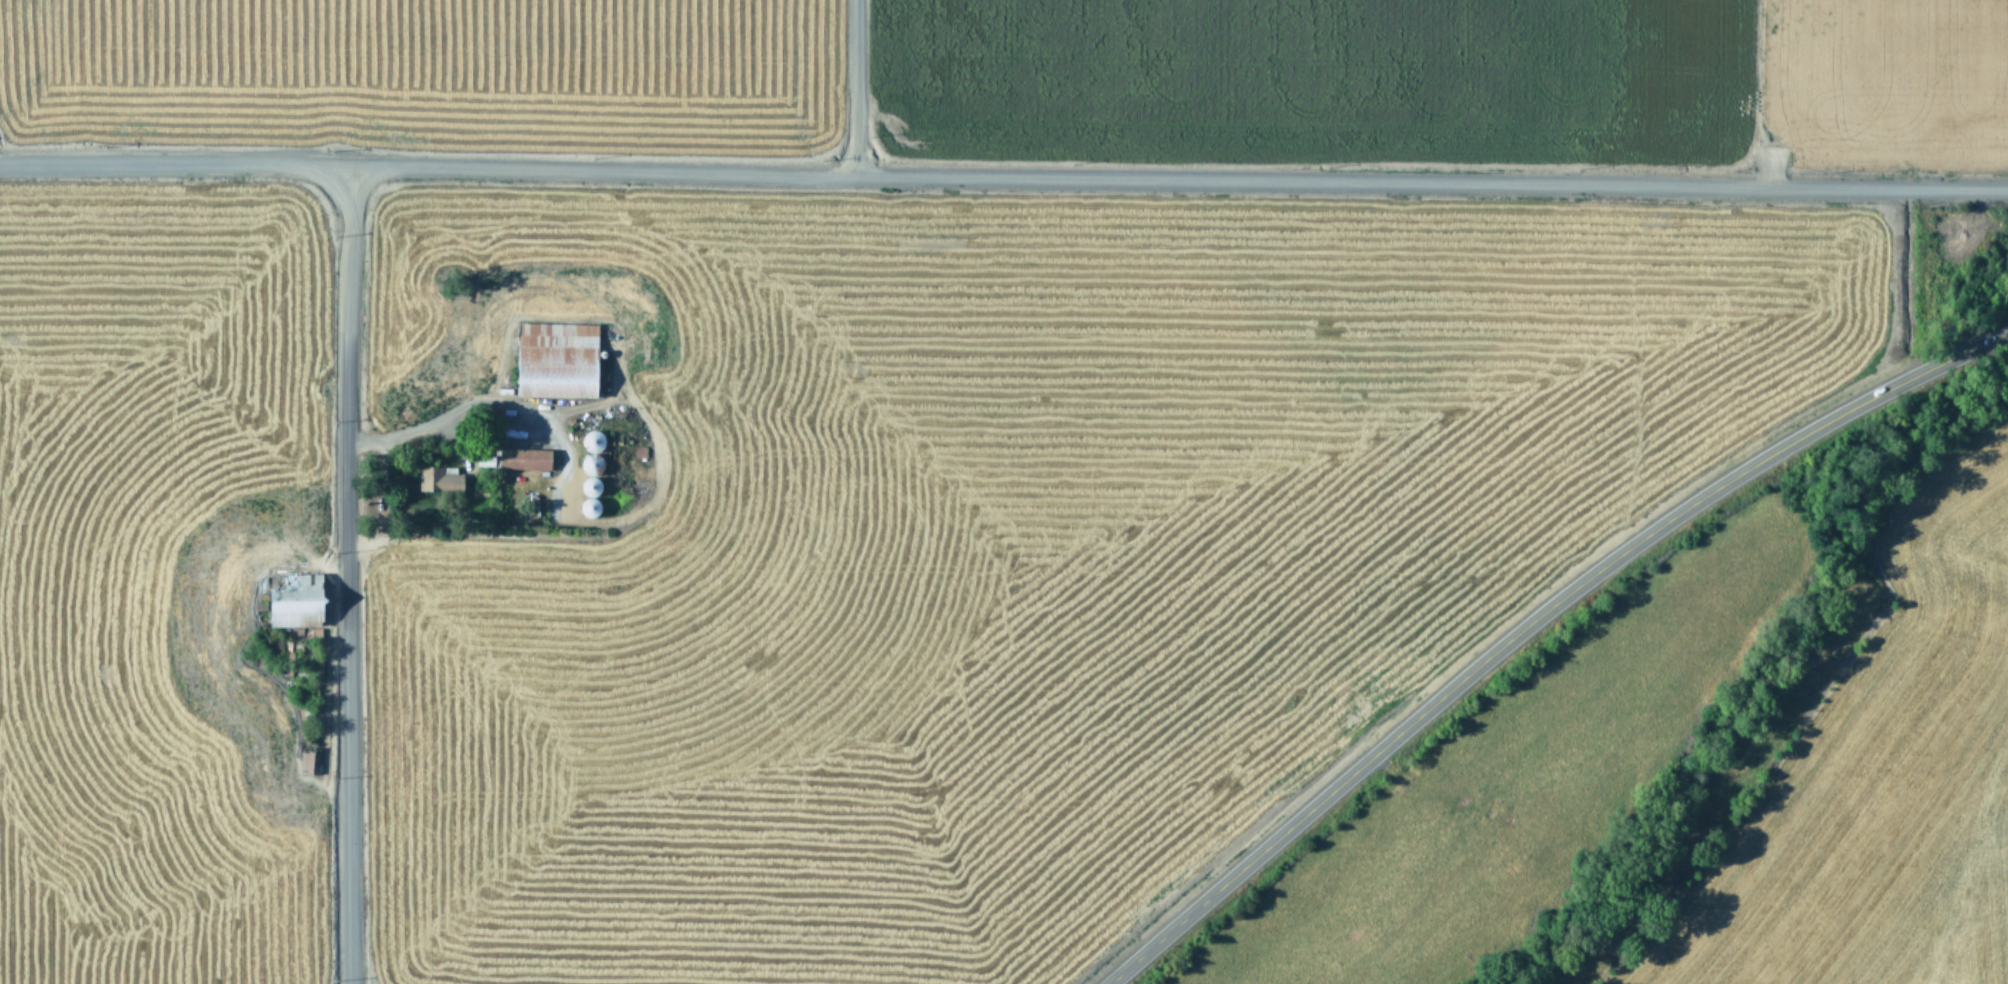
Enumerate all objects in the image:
crop: (412, 66)
crop: (1453, 78)
road: (853, 87)
road: (1003, 175)
building: (557, 357)
road: (431, 413)
building: (524, 456)
building: (485, 458)
building: (439, 477)
crop: (1049, 570)
road: (344, 573)
crop: (163, 583)
building: (295, 597)
road: (1530, 619)
crop: (1841, 768)

